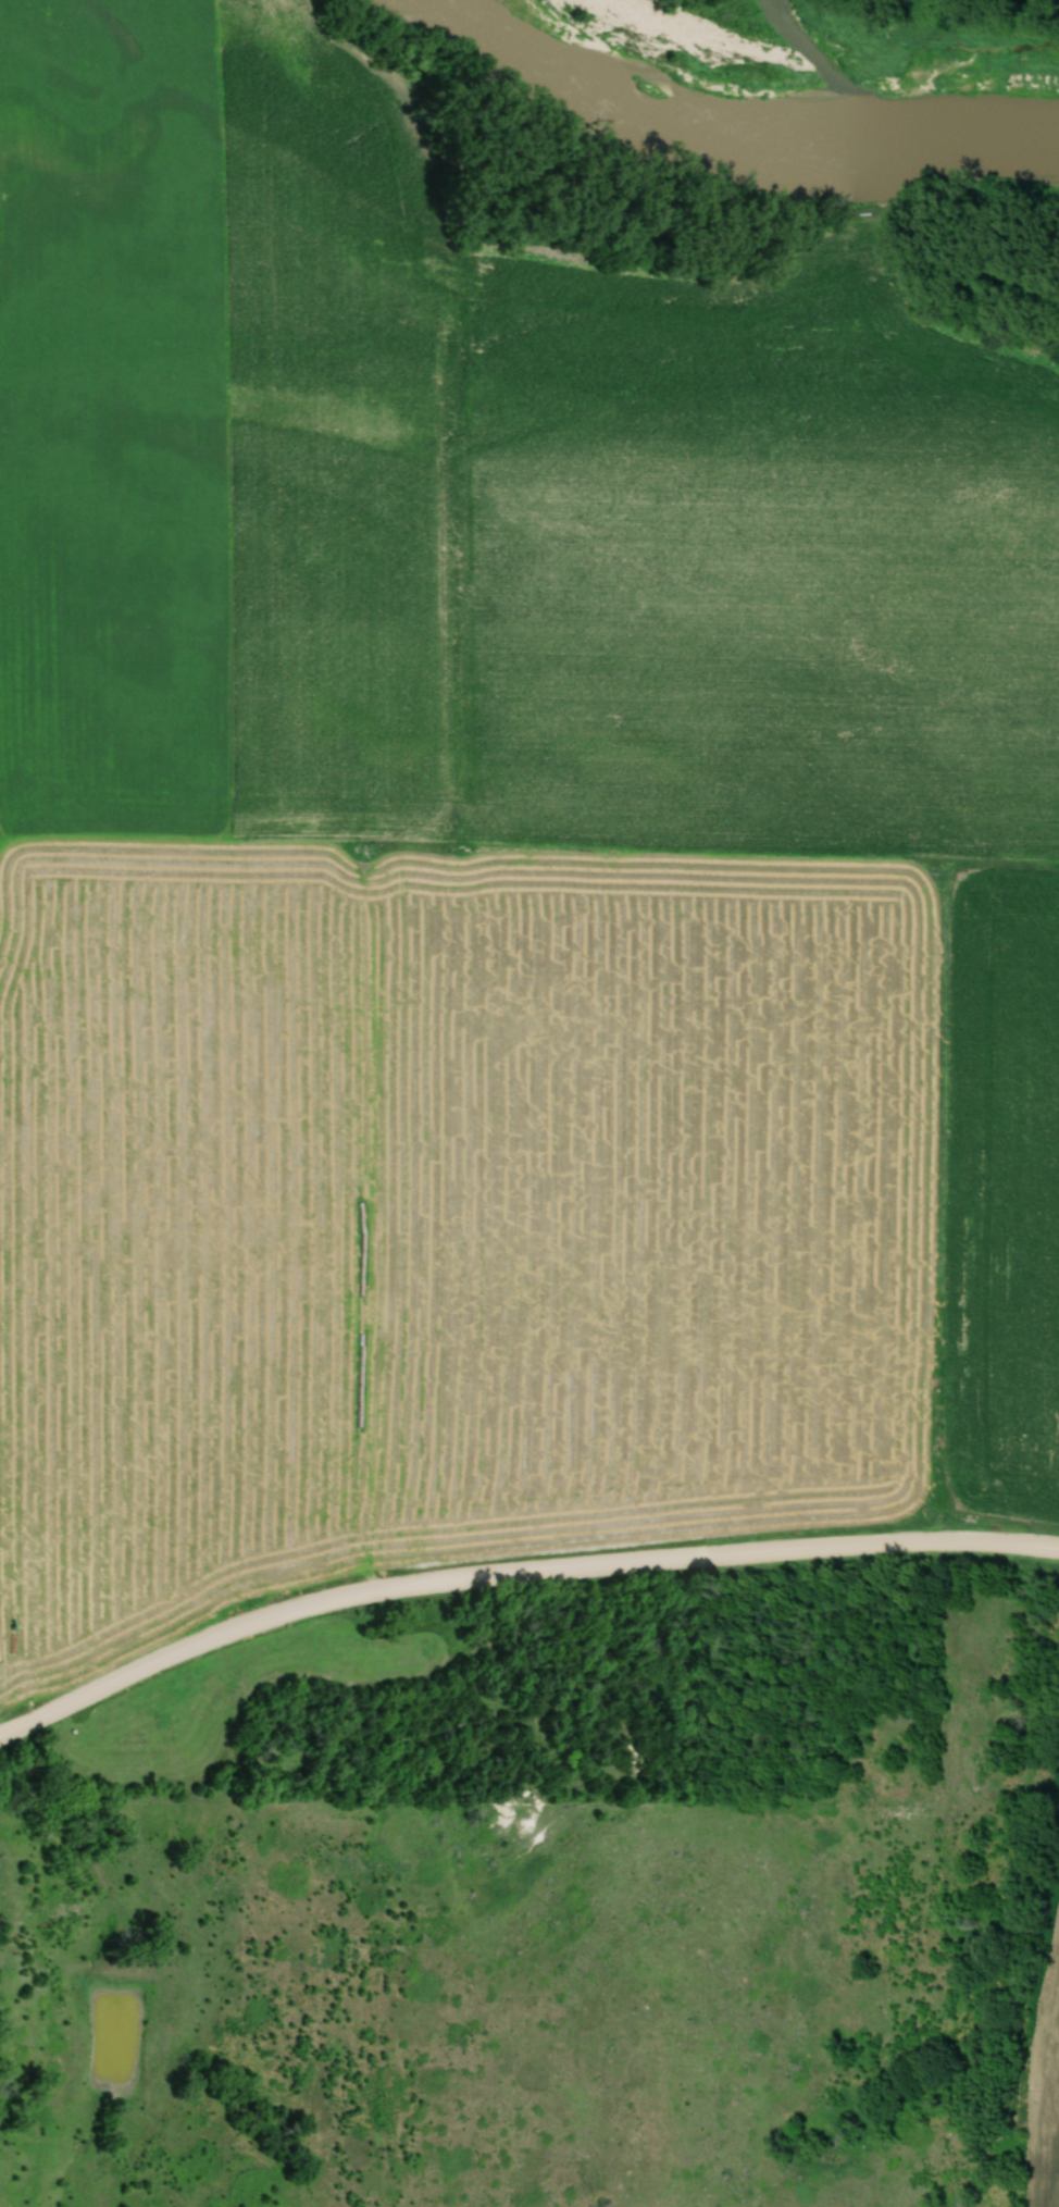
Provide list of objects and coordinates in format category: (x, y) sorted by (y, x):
river: (746, 86)
road: (516, 1576)

